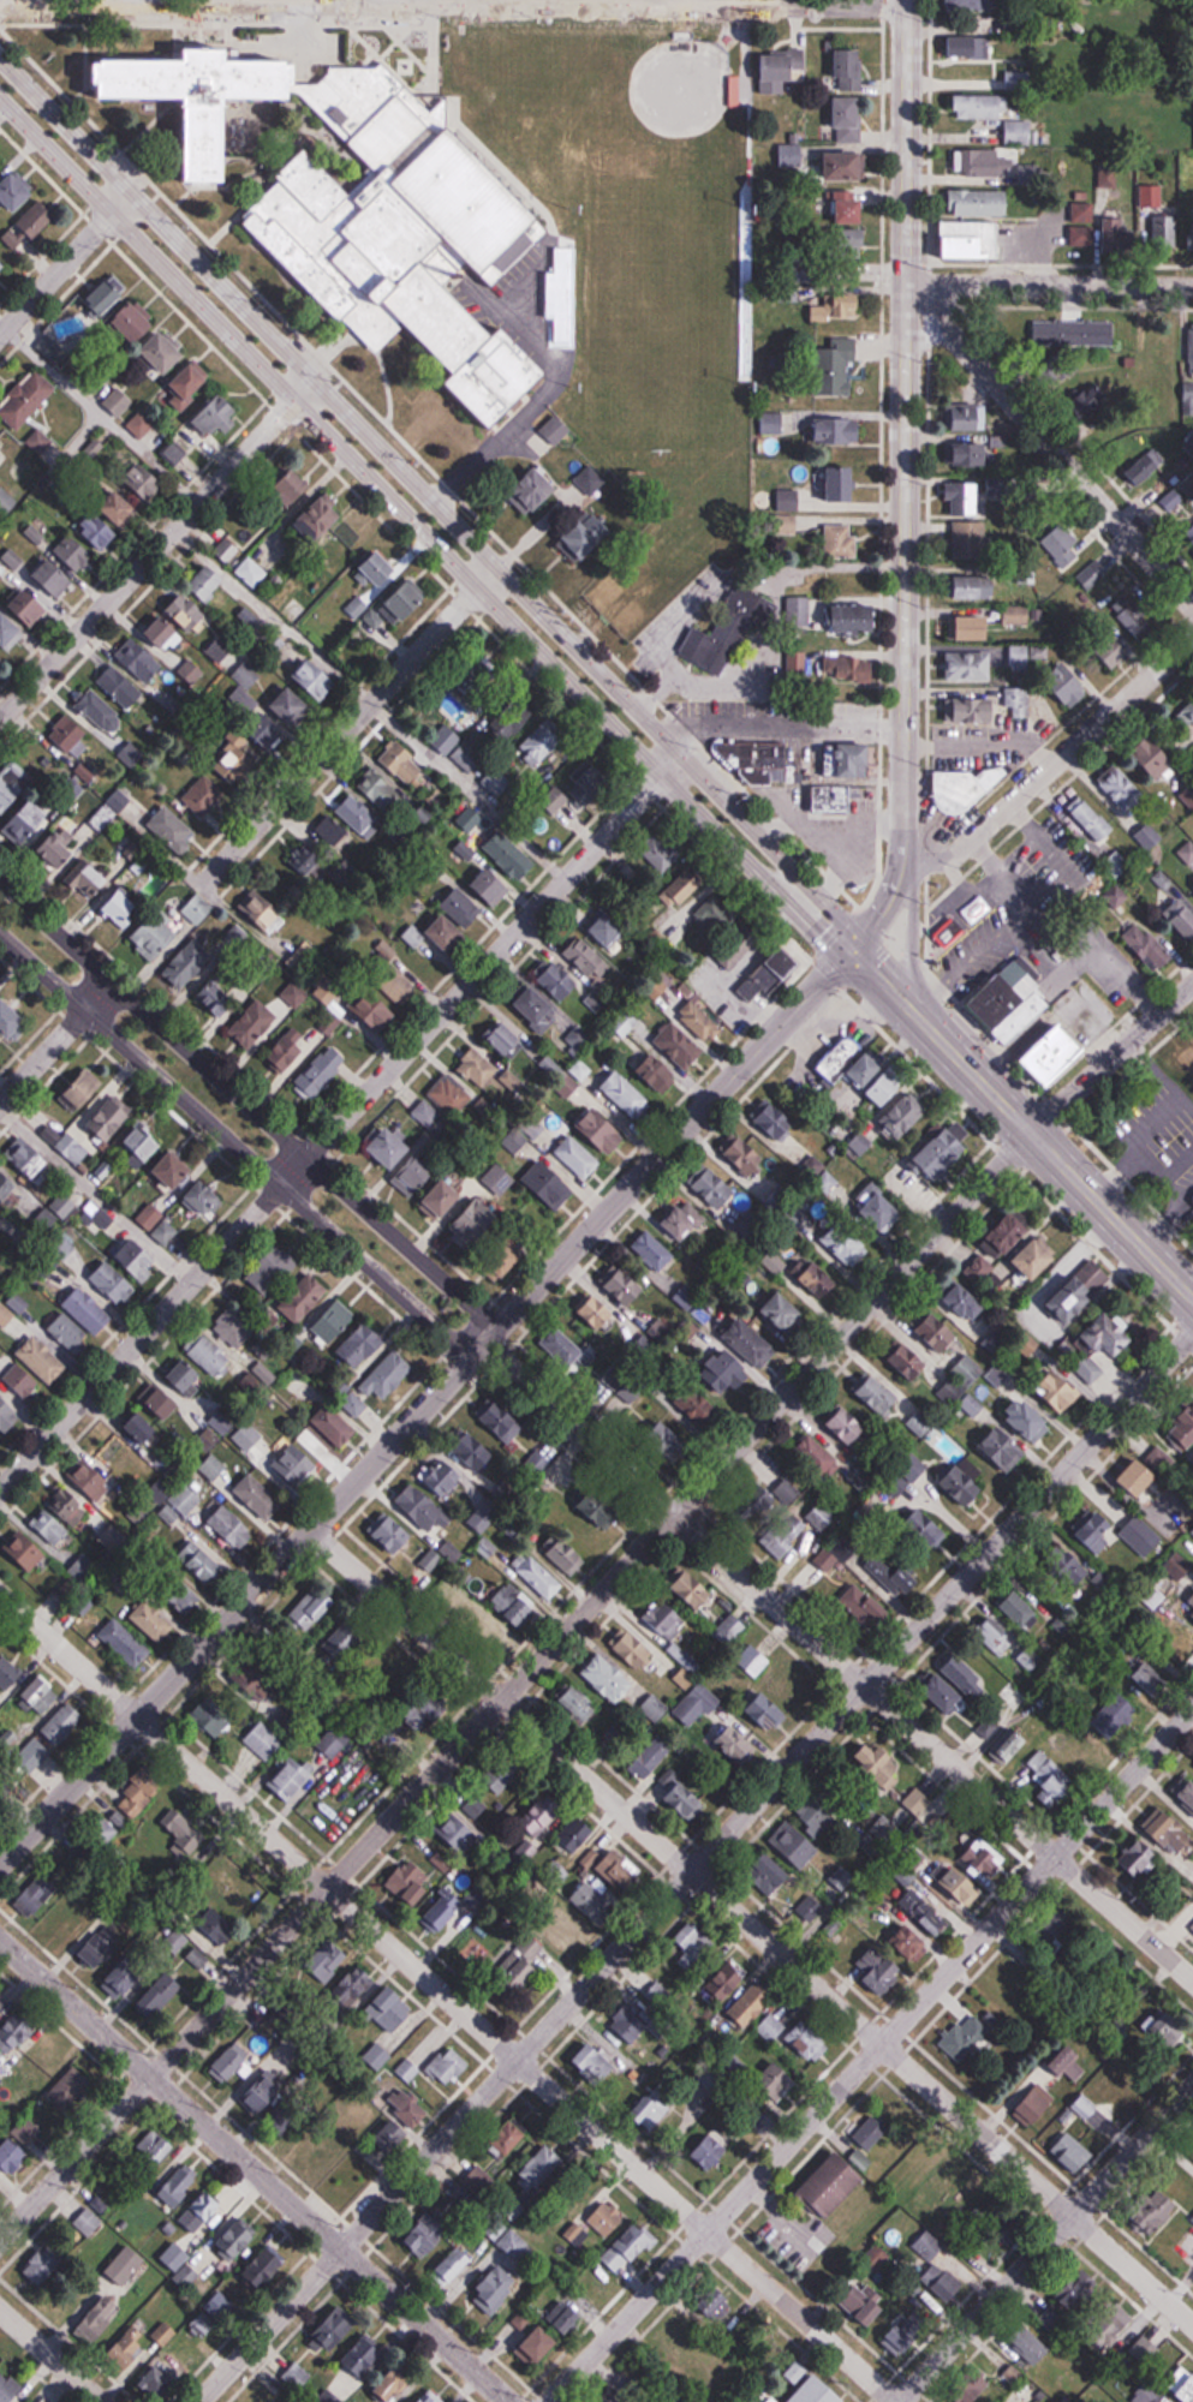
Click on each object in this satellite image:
road: (454, 6)
building: (968, 48)
building: (849, 70)
building: (781, 71)
building: (191, 101)
building: (983, 108)
building: (371, 113)
building: (849, 120)
park: (643, 124)
building: (1019, 133)
building: (0, 159)
building: (983, 165)
building: (846, 167)
building: (16, 191)
building: (979, 203)
building: (851, 209)
building: (1161, 216)
building: (36, 220)
building: (1084, 226)
building: (1125, 228)
building: (1191, 229)
building: (972, 240)
building: (400, 258)
road: (66, 261)
building: (1, 265)
road: (1049, 283)
park: (655, 288)
building: (108, 295)
building: (839, 307)
building: (136, 323)
building: (1093, 333)
building: (1192, 345)
building: (165, 353)
building: (833, 370)
building: (190, 386)
building: (1187, 399)
building: (24, 402)
building: (117, 402)
road: (523, 402)
building: (1087, 404)
building: (216, 417)
building: (970, 417)
building: (773, 423)
road: (903, 429)
building: (554, 430)
building: (839, 431)
building: (1, 442)
building: (38, 442)
road: (1049, 446)
building: (174, 453)
building: (967, 458)
building: (1145, 468)
building: (142, 484)
building: (842, 484)
building: (293, 490)
building: (533, 491)
road: (431, 497)
building: (1174, 500)
building: (118, 508)
building: (321, 520)
road: (420, 528)
building: (97, 531)
building: (591, 536)
building: (1189, 536)
building: (972, 540)
building: (841, 542)
building: (1062, 545)
road: (156, 546)
building: (226, 550)
building: (73, 552)
building: (339, 558)
building: (381, 570)
building: (251, 573)
building: (49, 574)
building: (1092, 575)
building: (208, 582)
building: (974, 588)
building: (408, 603)
building: (29, 607)
building: (357, 608)
building: (189, 614)
building: (1020, 616)
building: (1133, 617)
building: (857, 621)
building: (972, 628)
building: (8, 632)
building: (729, 633)
building: (163, 634)
building: (1114, 651)
building: (1024, 658)
building: (139, 661)
building: (971, 665)
building: (837, 670)
building: (479, 677)
building: (315, 680)
building: (1070, 683)
building: (120, 687)
building: (244, 691)
building: (1016, 698)
building: (292, 709)
building: (972, 711)
building: (101, 712)
building: (1186, 717)
road: (779, 719)
road: (345, 724)
building: (72, 736)
building: (270, 737)
building: (446, 740)
building: (542, 742)
building: (1157, 759)
building: (848, 761)
building: (239, 764)
road: (1054, 764)
building: (402, 765)
building: (765, 771)
building: (586, 782)
building: (11, 785)
building: (966, 788)
building: (381, 791)
building: (1125, 791)
building: (204, 797)
building: (834, 800)
building: (118, 802)
building: (359, 817)
building: (1091, 819)
building: (28, 823)
building: (173, 831)
building: (333, 832)
building: (1150, 837)
building: (55, 852)
building: (1187, 853)
building: (661, 854)
building: (509, 858)
building: (305, 861)
building: (88, 880)
building: (1119, 880)
building: (687, 884)
building: (490, 886)
building: (293, 897)
building: (120, 908)
road: (887, 910)
building: (262, 914)
building: (714, 915)
building: (1181, 918)
building: (455, 921)
building: (607, 928)
road: (903, 930)
building: (950, 934)
building: (155, 938)
building: (1149, 948)
building: (302, 957)
building: (587, 960)
building: (187, 966)
building: (786, 966)
road: (878, 975)
building: (560, 981)
building: (221, 994)
building: (1010, 1003)
building: (538, 1011)
building: (376, 1012)
building: (10, 1022)
building: (702, 1023)
building: (255, 1026)
building: (505, 1038)
road: (55, 1041)
building: (681, 1046)
building: (291, 1047)
building: (1057, 1056)
road: (1111, 1059)
building: (477, 1068)
building: (322, 1071)
building: (865, 1071)
building: (657, 1074)
road: (255, 1085)
building: (83, 1089)
building: (626, 1094)
building: (451, 1095)
road: (250, 1106)
building: (427, 1113)
building: (906, 1117)
building: (775, 1119)
road: (340, 1121)
building: (94, 1128)
building: (603, 1129)
building: (141, 1145)
road: (237, 1146)
building: (390, 1146)
building: (946, 1149)
road: (1048, 1149)
building: (744, 1154)
building: (30, 1157)
road: (228, 1163)
building: (174, 1169)
building: (561, 1170)
building: (418, 1173)
building: (499, 1178)
building: (6, 1184)
building: (712, 1187)
building: (203, 1197)
building: (442, 1199)
building: (879, 1206)
building: (150, 1215)
building: (477, 1218)
building: (684, 1219)
building: (1012, 1231)
building: (846, 1243)
building: (652, 1250)
building: (1036, 1257)
building: (138, 1259)
building: (979, 1268)
building: (272, 1269)
building: (816, 1278)
building: (113, 1281)
building: (624, 1284)
building: (1080, 1289)
building: (303, 1297)
building: (966, 1302)
building: (89, 1309)
building: (783, 1311)
building: (600, 1314)
building: (333, 1321)
building: (233, 1330)
building: (68, 1331)
building: (938, 1331)
building: (1110, 1336)
building: (750, 1340)
building: (360, 1345)
building: (572, 1352)
building: (210, 1354)
building: (42, 1358)
building: (908, 1360)
building: (1084, 1364)
building: (726, 1370)
building: (185, 1375)
building: (386, 1379)
building: (22, 1380)
building: (1061, 1388)
building: (878, 1396)
building: (160, 1399)
road: (424, 1404)
building: (972, 1404)
building: (698, 1405)
building: (7, 1415)
building: (1028, 1416)
building: (507, 1418)
building: (323, 1423)
building: (845, 1424)
building: (142, 1428)
building: (1182, 1430)
building: (0, 1435)
building: (666, 1444)
building: (1003, 1446)
building: (473, 1450)
building: (818, 1456)
building: (296, 1464)
building: (213, 1466)
building: (1147, 1470)
building: (442, 1476)
building: (93, 1478)
building: (967, 1481)
building: (160, 1490)
building: (787, 1490)
building: (258, 1496)
building: (185, 1499)
building: (419, 1505)
building: (601, 1507)
building: (77, 1510)
building: (819, 1514)
building: (50, 1525)
building: (232, 1525)
building: (1098, 1528)
building: (923, 1530)
building: (390, 1531)
building: (783, 1535)
building: (25, 1549)
building: (562, 1552)
building: (825, 1559)
building: (201, 1561)
building: (1075, 1561)
building: (891, 1573)
building: (537, 1575)
building: (693, 1589)
building: (180, 1594)
building: (463, 1596)
building: (1189, 1605)
building: (314, 1606)
building: (519, 1606)
building: (864, 1608)
building: (1018, 1609)
building: (664, 1619)
building: (153, 1620)
building: (494, 1629)
building: (729, 1629)
building: (992, 1637)
building: (345, 1639)
building: (125, 1642)
building: (634, 1649)
building: (754, 1660)
road: (839, 1660)
building: (389, 1665)
building: (8, 1673)
building: (964, 1674)
building: (607, 1678)
road: (514, 1685)
building: (942, 1691)
building: (41, 1696)
building: (578, 1703)
building: (696, 1704)
building: (765, 1711)
building: (422, 1714)
building: (1114, 1715)
building: (213, 1716)
building: (62, 1726)
building: (290, 1728)
building: (383, 1732)
building: (618, 1733)
building: (263, 1740)
building: (733, 1747)
building: (1080, 1751)
building: (656, 1752)
building: (877, 1763)
building: (309, 1765)
building: (44, 1769)
building: (1054, 1785)
building: (1186, 1791)
building: (137, 1797)
building: (685, 1799)
building: (322, 1809)
building: (543, 1814)
building: (184, 1830)
building: (1170, 1832)
building: (100, 1833)
building: (459, 1833)
building: (575, 1834)
building: (804, 1835)
building: (80, 1856)
building: (1139, 1858)
road: (693, 1868)
building: (217, 1871)
building: (620, 1871)
building: (974, 1871)
building: (554, 1872)
building: (773, 1881)
building: (408, 1883)
building: (258, 1887)
building: (41, 1890)
building: (592, 1902)
building: (809, 1908)
building: (443, 1910)
building: (925, 1912)
building: (76, 1917)
building: (215, 1922)
road: (752, 1926)
building: (1192, 1926)
building: (568, 1928)
building: (1058, 1932)
building: (102, 1942)
building: (911, 1942)
building: (692, 1948)
building: (197, 1958)
building: (523, 1962)
building: (132, 1970)
building: (879, 1970)
building: (322, 1971)
building: (724, 1982)
building: (351, 1992)
building: (159, 1994)
road: (446, 1995)
building: (658, 1996)
building: (751, 2003)
building: (632, 2019)
building: (770, 2027)
building: (1163, 2028)
building: (377, 2031)
building: (973, 2032)
building: (16, 2033)
building: (807, 2040)
building: (49, 2056)
road: (871, 2057)
building: (595, 2060)
building: (231, 2063)
building: (1074, 2065)
building: (448, 2066)
building: (407, 2069)
building: (0, 2080)
building: (776, 2080)
building: (72, 2090)
building: (263, 2090)
building: (656, 2103)
building: (288, 2111)
building: (401, 2122)
building: (872, 2133)
building: (716, 2144)
building: (155, 2145)
building: (322, 2150)
building: (12, 2152)
building: (1188, 2156)
building: (538, 2168)
road: (255, 2170)
building: (478, 2181)
building: (833, 2183)
building: (178, 2186)
building: (1157, 2210)
building: (1192, 2217)
building: (606, 2218)
building: (197, 2222)
building: (88, 2223)
building: (574, 2234)
building: (235, 2239)
building: (423, 2239)
road: (1048, 2245)
building: (515, 2246)
building: (628, 2249)
building: (47, 2260)
building: (452, 2263)
building: (126, 2265)
building: (264, 2267)
building: (186, 2276)
building: (944, 2282)
building: (494, 2290)
building: (864, 2302)
building: (1067, 2302)
building: (566, 2317)
building: (213, 2318)
building: (97, 2320)
building: (335, 2328)
building: (906, 2330)
building: (162, 2335)
building: (541, 2344)
building: (1030, 2347)
building: (364, 2355)
road: (49, 2356)
building: (294, 2378)
building: (157, 2382)
building: (394, 2384)
building: (8, 2388)
building: (1187, 2390)
building: (817, 2391)
building: (626, 2392)
building: (1147, 2395)
building: (966, 2396)
building: (430, 2397)

